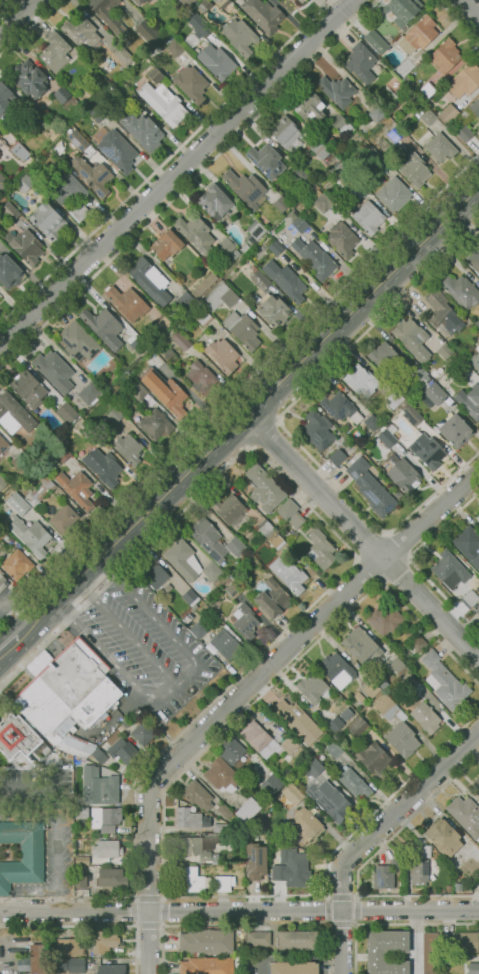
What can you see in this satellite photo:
building: (283, 0)
building: (148, 1)
building: (301, 1)
building: (139, 2)
building: (188, 2)
road: (3, 3)
building: (221, 3)
building: (204, 5)
road: (469, 9)
building: (399, 10)
building: (108, 14)
building: (263, 14)
road: (20, 19)
road: (457, 22)
road: (29, 26)
building: (198, 27)
building: (147, 31)
building: (82, 33)
building: (418, 35)
building: (240, 36)
building: (376, 41)
building: (175, 48)
building: (55, 51)
building: (446, 55)
building: (123, 56)
building: (217, 61)
building: (361, 62)
building: (404, 69)
building: (155, 74)
building: (30, 79)
building: (465, 79)
building: (191, 83)
building: (428, 89)
building: (337, 90)
building: (92, 91)
building: (392, 93)
building: (61, 95)
building: (77, 95)
building: (5, 100)
building: (135, 101)
building: (164, 103)
building: (310, 106)
building: (475, 107)
building: (448, 113)
building: (98, 114)
building: (376, 114)
building: (426, 115)
building: (465, 125)
building: (478, 125)
building: (342, 126)
building: (141, 130)
building: (53, 133)
building: (395, 133)
building: (295, 137)
building: (78, 139)
building: (440, 147)
building: (118, 150)
building: (19, 151)
building: (265, 160)
road: (164, 161)
building: (415, 169)
road: (176, 172)
building: (297, 173)
building: (94, 176)
building: (2, 182)
building: (24, 183)
road: (187, 183)
building: (246, 188)
building: (331, 191)
building: (393, 194)
building: (69, 195)
building: (2, 199)
building: (322, 201)
building: (215, 202)
building: (282, 205)
building: (293, 213)
building: (368, 217)
building: (48, 221)
building: (300, 223)
building: (254, 231)
building: (196, 234)
building: (342, 238)
building: (167, 243)
building: (25, 245)
building: (226, 246)
building: (244, 247)
building: (275, 248)
building: (235, 254)
building: (474, 259)
building: (317, 260)
building: (9, 271)
building: (259, 278)
building: (150, 280)
building: (286, 281)
building: (204, 285)
building: (462, 290)
building: (220, 297)
building: (185, 301)
building: (127, 303)
building: (273, 311)
building: (443, 313)
building: (203, 317)
building: (163, 322)
building: (102, 323)
building: (477, 323)
building: (243, 329)
building: (410, 332)
building: (180, 340)
building: (78, 341)
building: (139, 344)
building: (444, 350)
building: (222, 354)
building: (169, 355)
building: (385, 357)
building: (474, 360)
building: (461, 368)
building: (54, 370)
building: (419, 374)
building: (201, 378)
building: (361, 381)
road: (239, 386)
building: (28, 388)
building: (139, 391)
building: (165, 391)
building: (88, 393)
building: (433, 394)
building: (394, 398)
building: (469, 401)
road: (258, 402)
building: (340, 407)
building: (66, 412)
building: (14, 414)
building: (411, 414)
building: (114, 415)
road: (279, 421)
building: (370, 421)
building: (155, 424)
building: (317, 430)
building: (455, 430)
road: (268, 435)
building: (386, 437)
building: (3, 445)
building: (128, 449)
building: (428, 451)
building: (337, 456)
building: (21, 460)
building: (103, 466)
building: (404, 475)
building: (2, 482)
building: (371, 487)
building: (264, 488)
building: (42, 489)
building: (77, 489)
building: (397, 493)
building: (18, 503)
building: (229, 508)
building: (287, 508)
building: (478, 518)
building: (64, 519)
building: (295, 519)
building: (265, 526)
building: (3, 531)
building: (31, 535)
building: (292, 535)
road: (362, 537)
building: (208, 538)
building: (275, 540)
building: (468, 544)
road: (369, 545)
road: (397, 545)
building: (235, 546)
building: (251, 548)
building: (321, 549)
road: (409, 561)
building: (189, 562)
building: (17, 564)
building: (449, 569)
road: (367, 571)
road: (396, 572)
building: (155, 575)
building: (289, 575)
building: (235, 580)
road: (336, 580)
building: (2, 582)
building: (233, 590)
building: (189, 595)
building: (272, 598)
building: (469, 598)
building: (193, 608)
building: (477, 610)
building: (186, 620)
building: (385, 620)
building: (245, 621)
road: (28, 628)
building: (199, 629)
road: (126, 632)
building: (226, 642)
parking lot: (144, 643)
road: (5, 644)
building: (361, 644)
road: (9, 645)
building: (415, 646)
building: (38, 662)
building: (397, 665)
building: (337, 670)
building: (363, 676)
building: (408, 680)
building: (444, 681)
road: (175, 683)
building: (312, 687)
building: (371, 688)
road: (244, 690)
building: (68, 696)
building: (358, 697)
building: (367, 708)
building: (425, 717)
building: (297, 721)
building: (124, 723)
building: (334, 723)
building: (358, 726)
building: (397, 726)
building: (276, 730)
building: (143, 732)
building: (19, 736)
building: (259, 739)
building: (136, 744)
building: (291, 746)
building: (333, 748)
building: (123, 750)
building: (232, 751)
building: (99, 755)
building: (287, 757)
building: (374, 759)
building: (313, 767)
building: (221, 775)
building: (477, 781)
building: (353, 782)
building: (271, 784)
building: (99, 786)
road: (36, 789)
building: (292, 793)
building: (478, 793)
building: (197, 794)
building: (275, 797)
building: (329, 800)
building: (270, 804)
building: (248, 809)
building: (224, 810)
building: (81, 812)
building: (465, 815)
building: (105, 818)
building: (190, 818)
building: (308, 820)
road: (163, 827)
building: (269, 827)
building: (74, 833)
road: (370, 836)
building: (443, 836)
building: (294, 837)
building: (194, 847)
building: (105, 848)
building: (424, 851)
building: (22, 853)
building: (314, 857)
building: (82, 860)
building: (255, 861)
road: (364, 862)
building: (291, 867)
building: (419, 871)
building: (80, 877)
building: (111, 877)
building: (383, 877)
building: (192, 880)
building: (224, 882)
building: (440, 889)
road: (147, 897)
road: (327, 897)
road: (355, 897)
road: (163, 910)
road: (131, 911)
road: (239, 911)
road: (353, 921)
road: (354, 923)
road: (149, 924)
road: (244, 924)
road: (329, 924)
road: (391, 924)
road: (92, 926)
building: (256, 940)
building: (297, 940)
building: (103, 941)
building: (206, 941)
building: (468, 941)
building: (449, 944)
building: (68, 946)
building: (386, 951)
building: (429, 953)
building: (38, 958)
building: (447, 959)
building: (76, 965)
building: (206, 965)
building: (294, 967)
building: (473, 968)
building: (111, 969)

